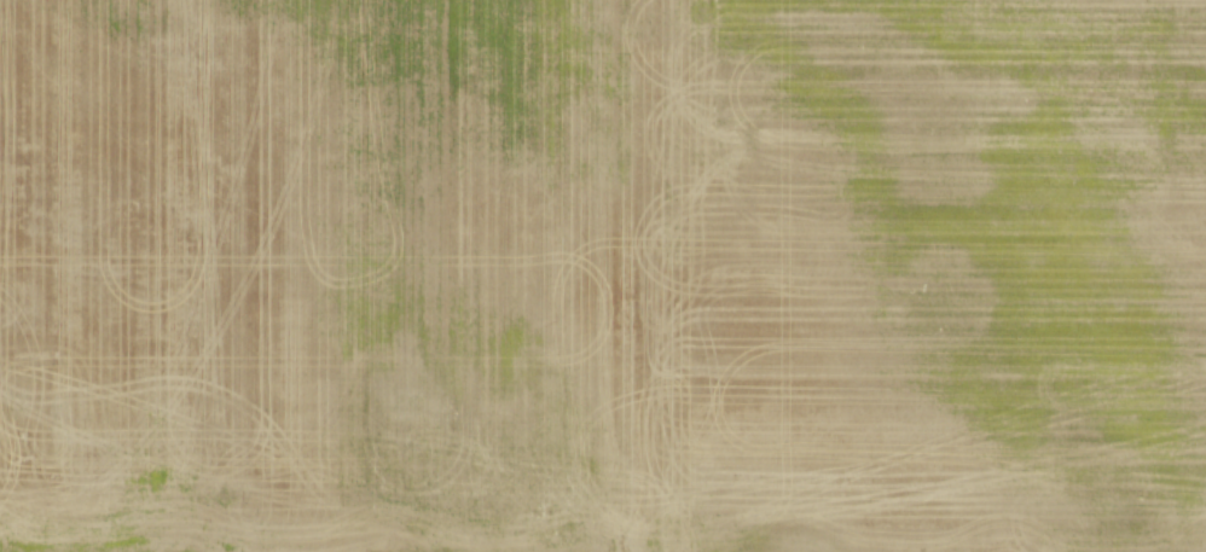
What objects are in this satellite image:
crop: (603, 275)

